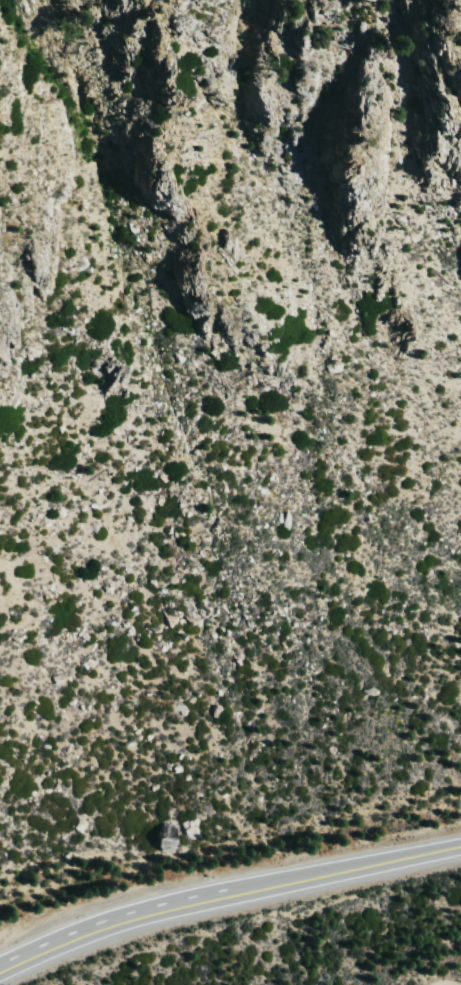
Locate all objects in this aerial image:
road: (317, 876)
road: (85, 935)

